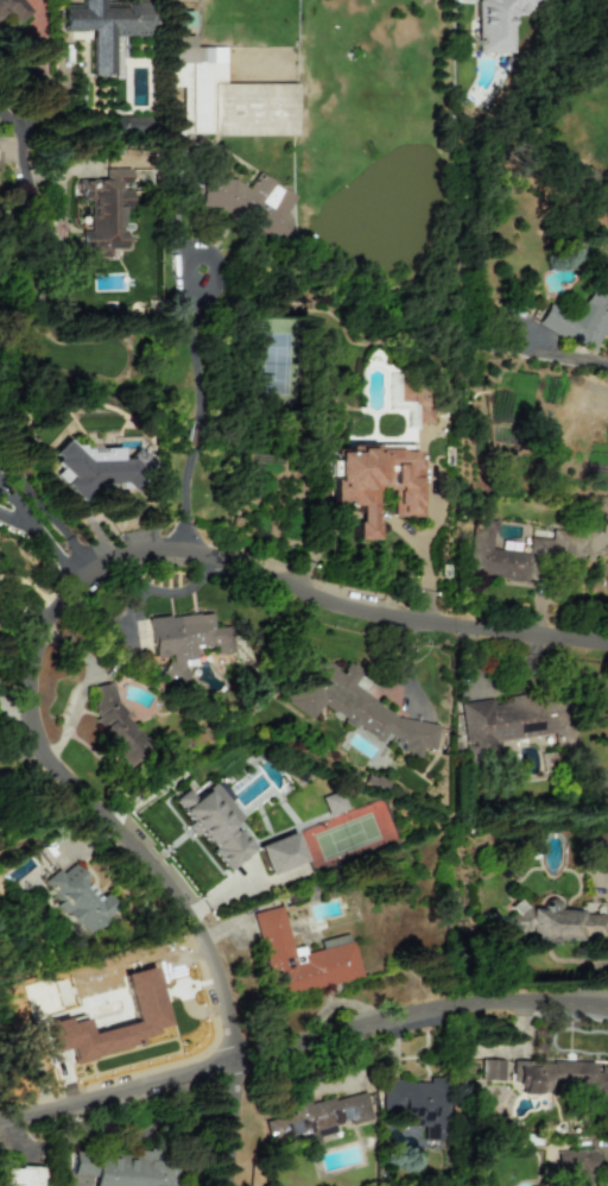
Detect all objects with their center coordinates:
building: (15, 11)
building: (501, 21)
building: (104, 29)
road: (45, 83)
road: (7, 119)
building: (248, 202)
building: (102, 210)
road: (21, 239)
building: (606, 270)
building: (579, 320)
building: (417, 399)
road: (201, 411)
building: (93, 468)
building: (373, 481)
road: (30, 496)
road: (382, 517)
building: (512, 553)
road: (158, 592)
road: (26, 632)
building: (183, 642)
road: (84, 686)
building: (355, 706)
road: (7, 709)
building: (512, 723)
building: (118, 727)
building: (332, 803)
building: (214, 824)
building: (598, 844)
building: (279, 853)
building: (78, 898)
building: (555, 922)
building: (299, 958)
building: (141, 995)
road: (300, 1046)
building: (490, 1070)
building: (419, 1102)
building: (317, 1117)
building: (576, 1166)
building: (123, 1169)
building: (21, 1176)

